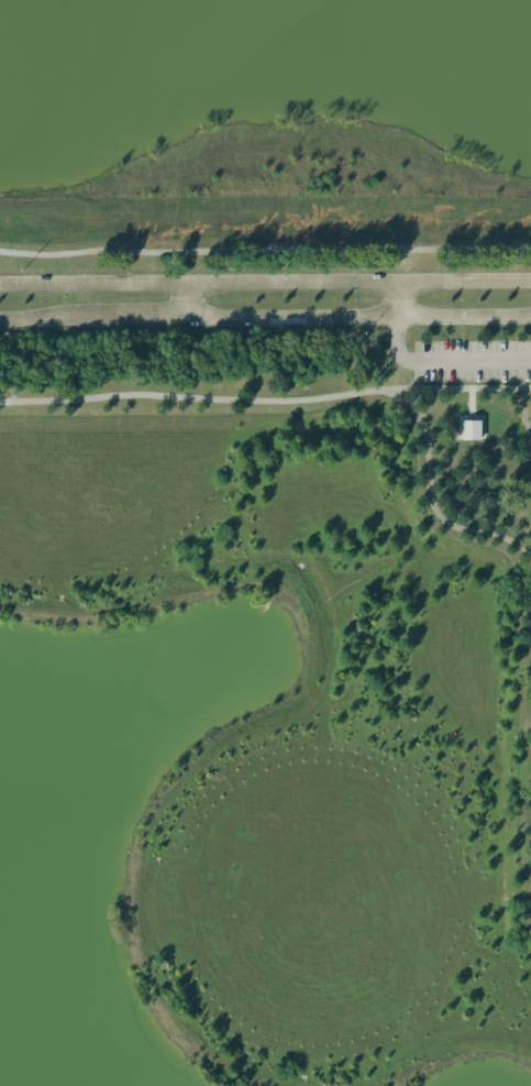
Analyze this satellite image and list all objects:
road: (265, 248)
road: (265, 285)
road: (185, 300)
road: (396, 300)
road: (265, 316)
road: (446, 360)
parking lot: (472, 361)
road: (472, 387)
road: (212, 399)
road: (5, 401)
road: (469, 403)
road: (523, 406)
road: (472, 417)
building: (471, 429)
park: (478, 485)
road: (430, 500)
road: (524, 540)
park: (252, 546)
road: (529, 632)

